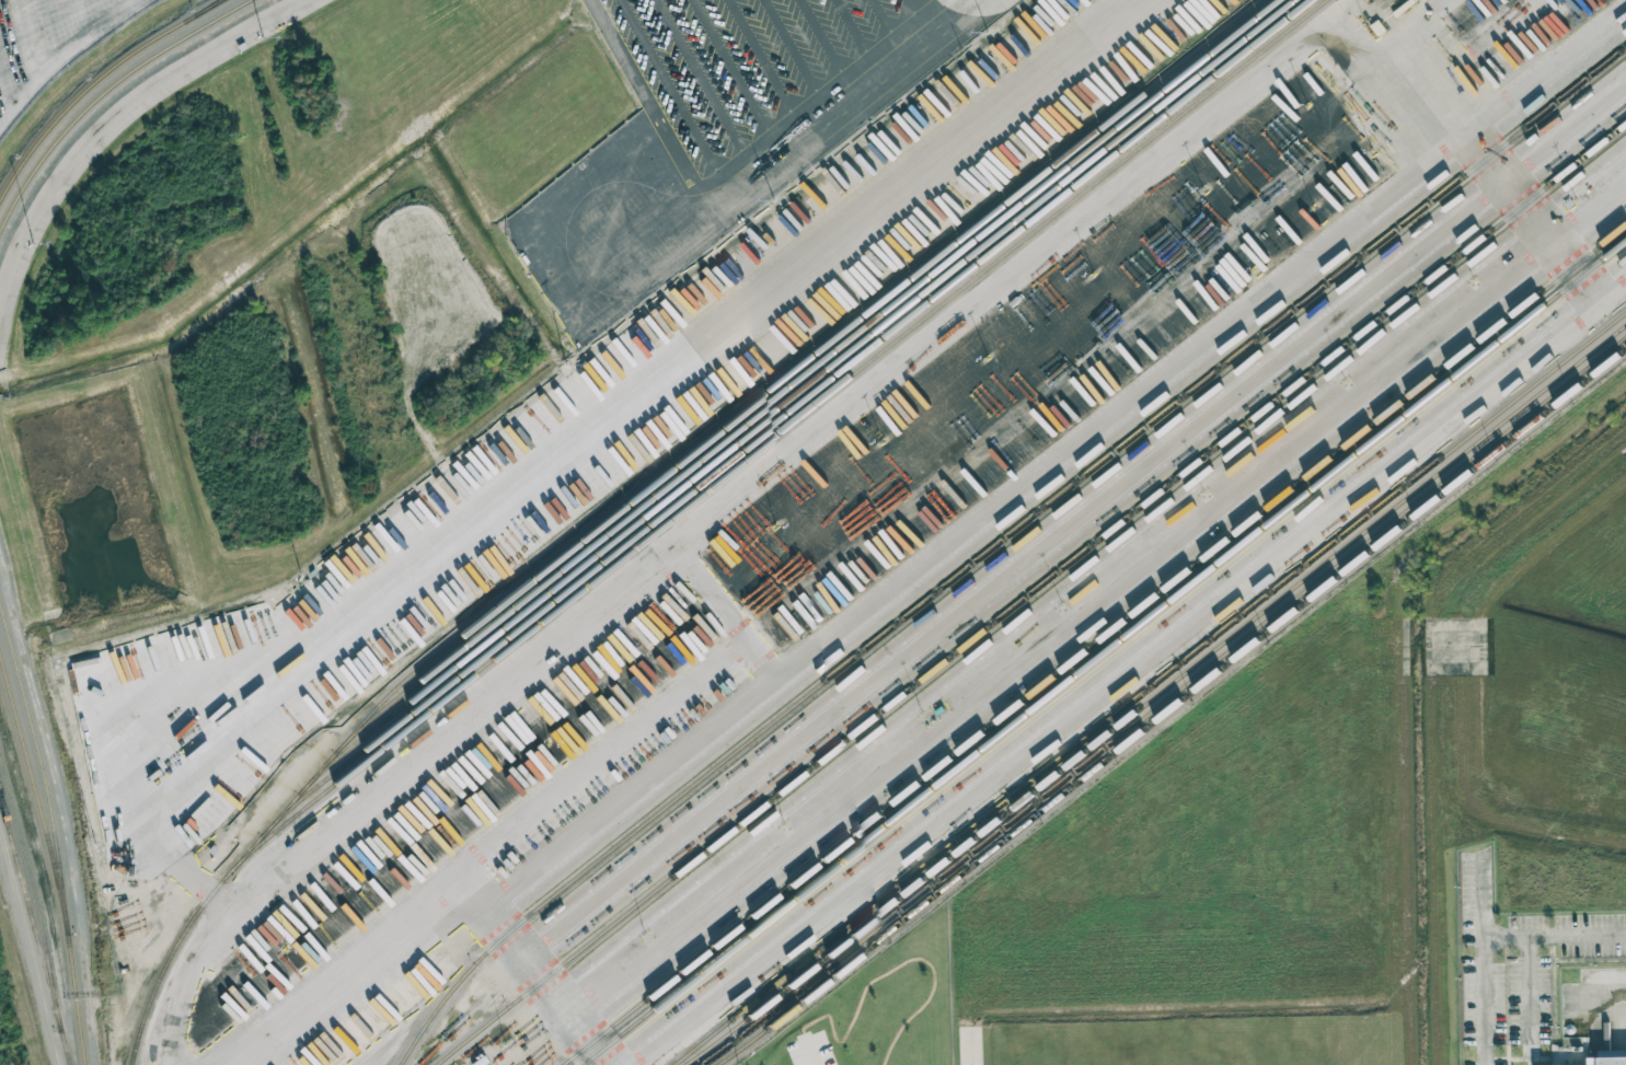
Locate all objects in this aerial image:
road: (1417, 24)
road: (1541, 67)
road: (43, 73)
railway: (92, 79)
railway: (102, 90)
road: (1476, 154)
road: (735, 161)
railway: (1408, 219)
railway: (822, 362)
railway: (811, 382)
railway: (762, 394)
railway: (1385, 419)
railway: (772, 429)
road: (575, 445)
railway: (691, 503)
road: (726, 505)
road: (971, 521)
road: (726, 609)
railway: (1125, 623)
road: (1027, 651)
railway: (1103, 652)
road: (1134, 672)
railway: (34, 783)
railway: (56, 826)
road: (489, 846)
railway: (34, 929)
road: (1495, 937)
road: (30, 948)
road: (533, 969)
road: (810, 1052)
building: (1606, 1061)

